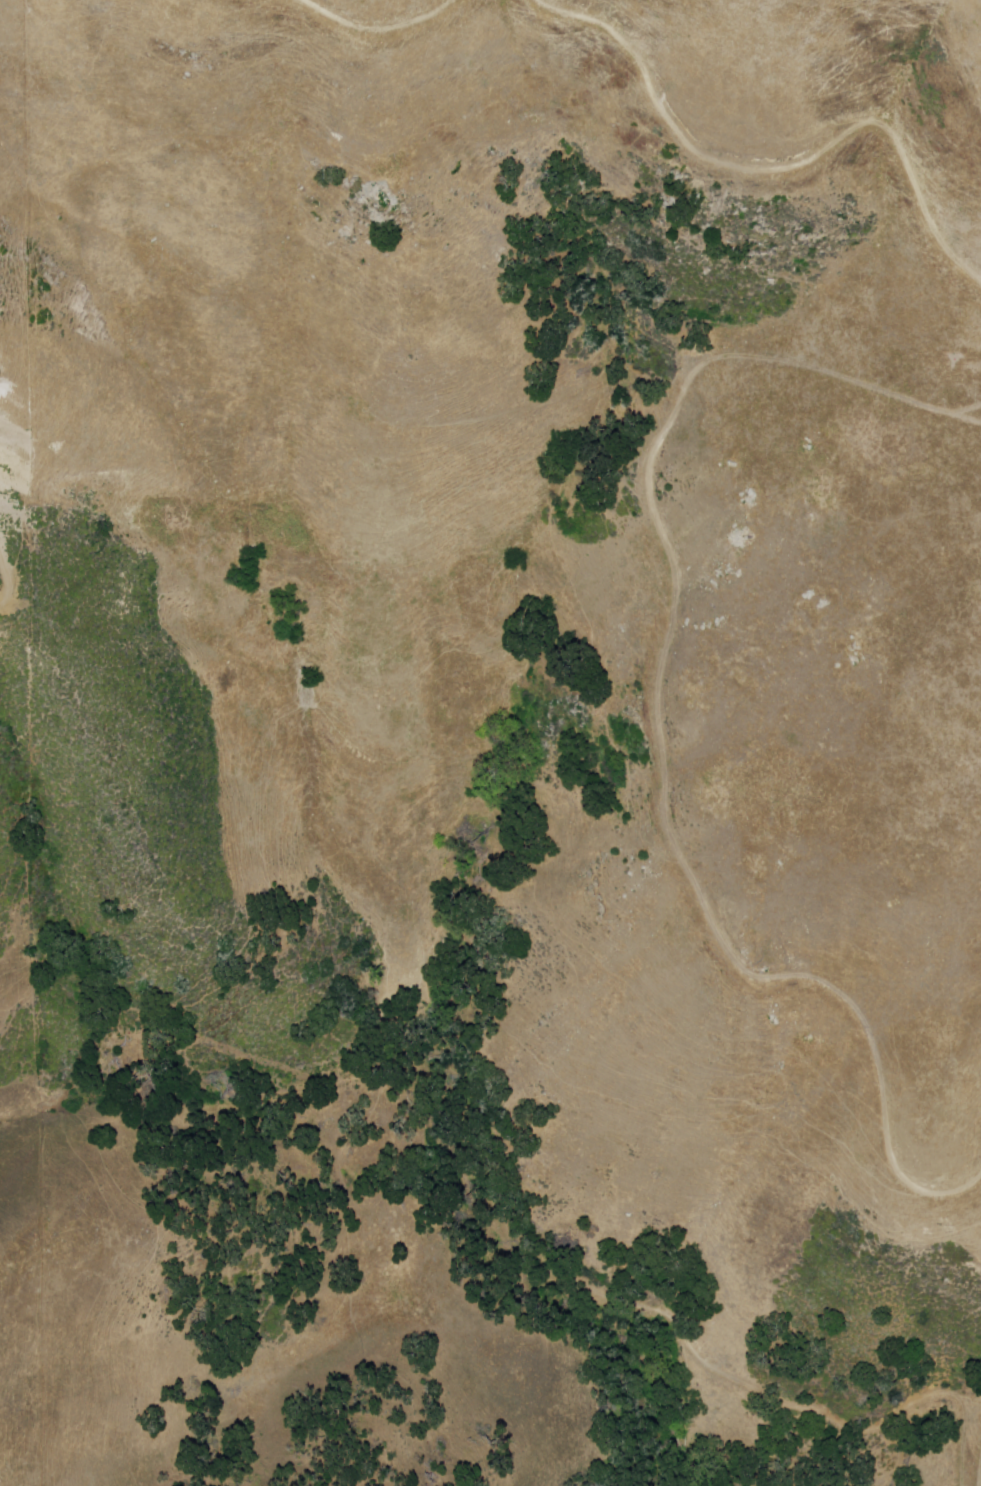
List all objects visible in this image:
road: (375, 31)
road: (770, 169)
road: (973, 412)
road: (656, 718)

